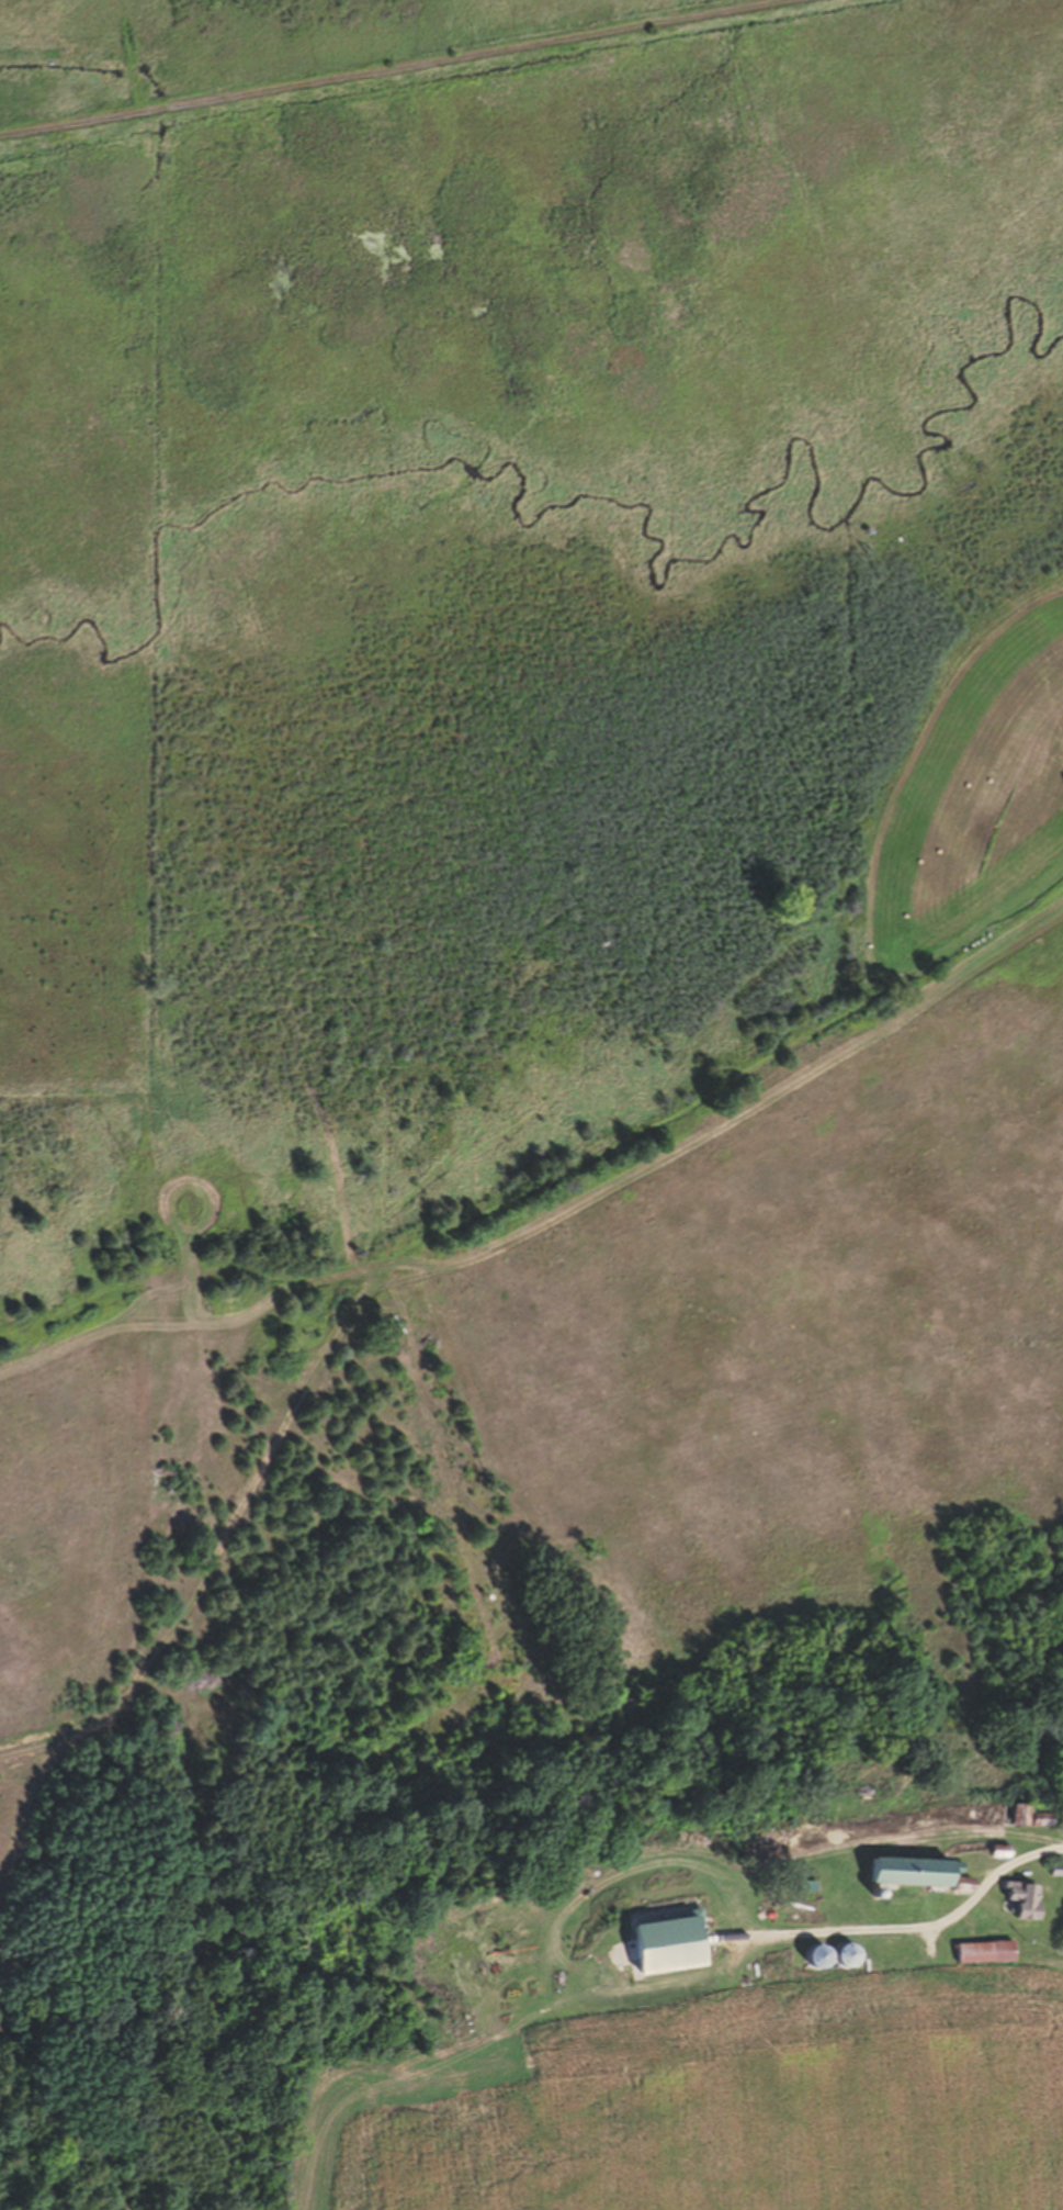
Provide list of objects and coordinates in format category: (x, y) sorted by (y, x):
building: (909, 1880)
building: (1022, 1908)
building: (796, 1922)
building: (669, 1953)
building: (814, 1965)

